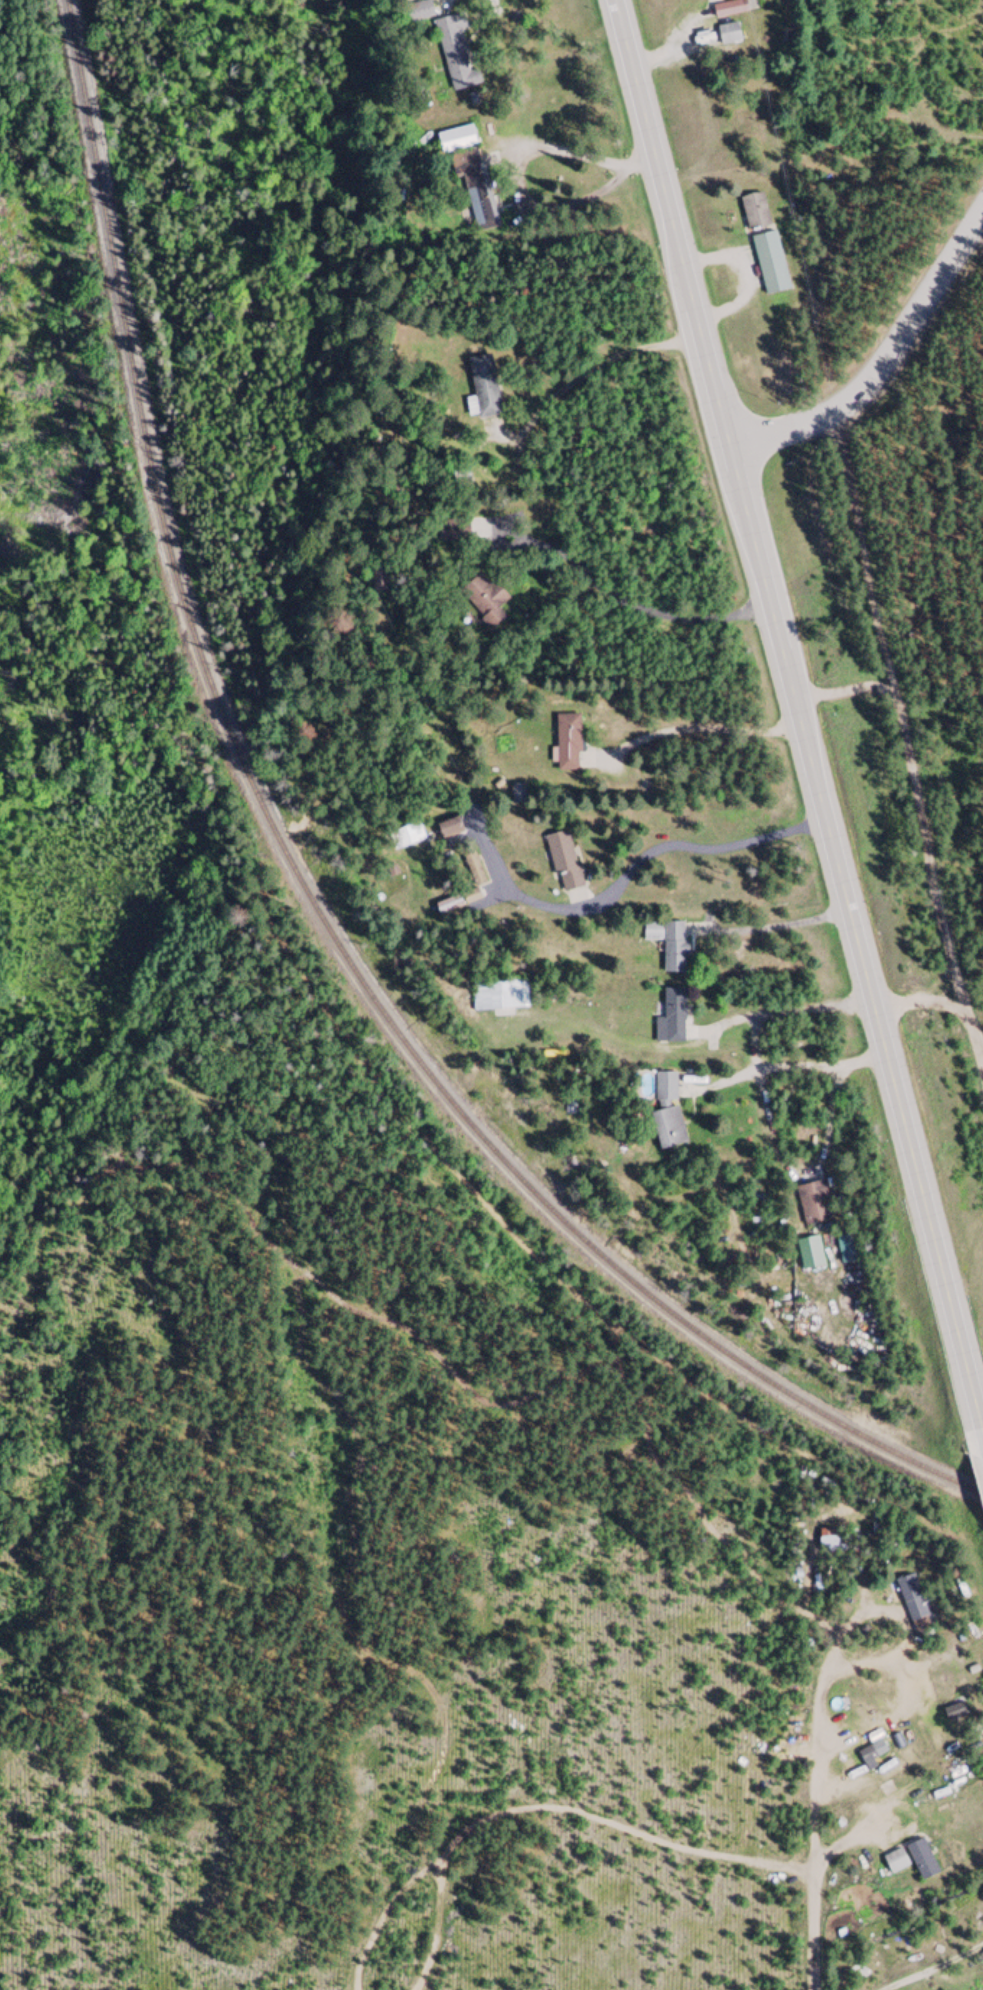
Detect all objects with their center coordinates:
building: (730, 9)
building: (419, 12)
building: (729, 35)
building: (456, 55)
building: (457, 141)
road: (581, 156)
building: (476, 187)
building: (756, 212)
building: (771, 263)
road: (883, 362)
building: (483, 389)
road: (545, 406)
building: (446, 531)
building: (378, 581)
building: (485, 600)
road: (638, 607)
road: (800, 719)
road: (704, 726)
building: (568, 743)
road: (908, 744)
building: (519, 794)
building: (449, 829)
building: (407, 837)
building: (564, 861)
building: (473, 867)
building: (386, 874)
road: (628, 875)
railway: (304, 889)
building: (448, 906)
road: (786, 924)
building: (669, 944)
building: (500, 997)
road: (862, 1060)
building: (668, 1112)
building: (815, 1204)
building: (846, 1249)
building: (810, 1253)
building: (830, 1542)
building: (915, 1605)
building: (956, 1711)
building: (872, 1754)
road: (815, 1816)
road: (616, 1825)
building: (922, 1859)
building: (896, 1861)
building: (977, 1905)
road: (385, 1918)
road: (432, 1926)

